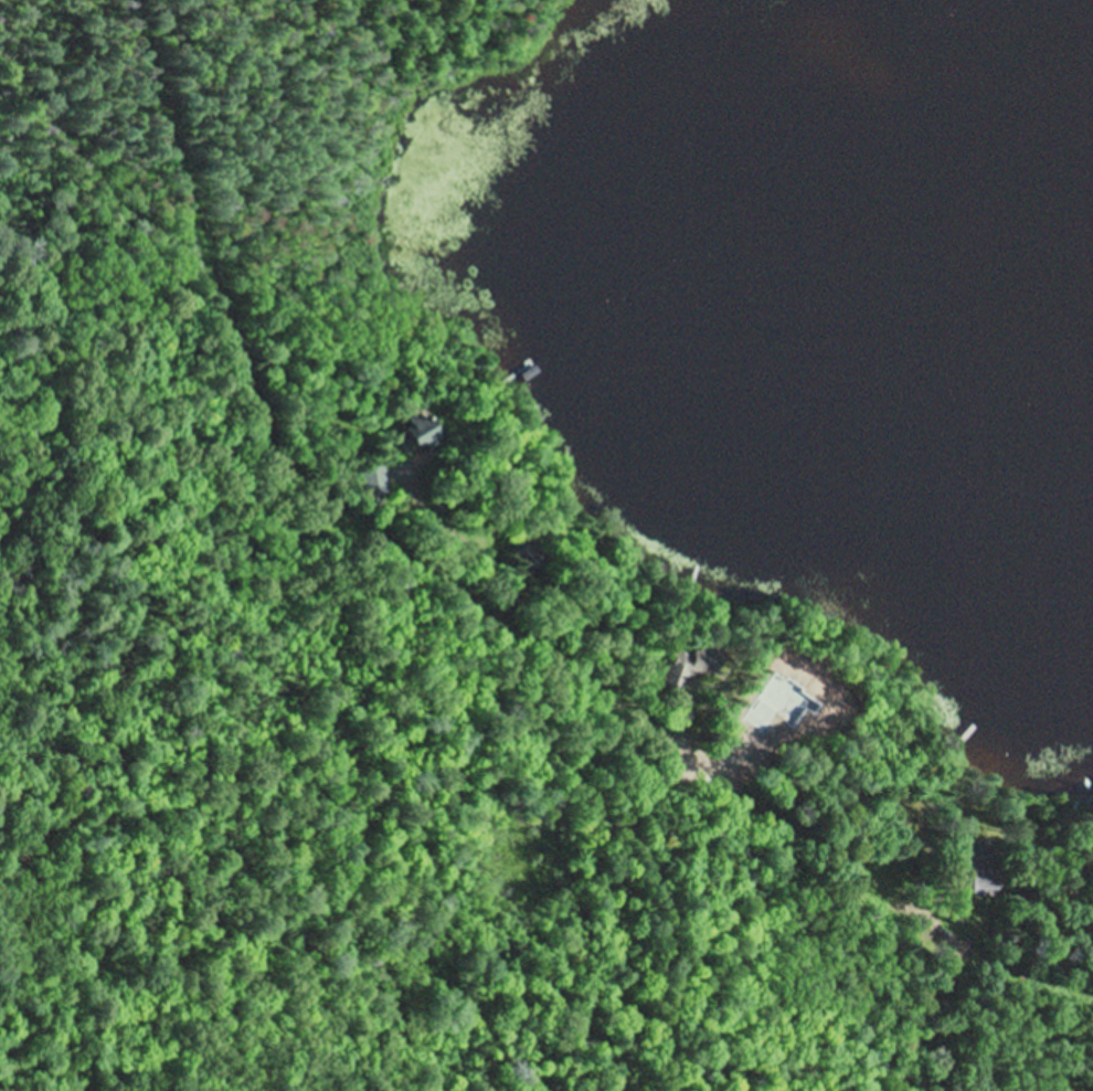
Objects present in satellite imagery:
road: (484, 599)
road: (608, 802)
road: (691, 843)
road: (1086, 930)
road: (873, 971)

